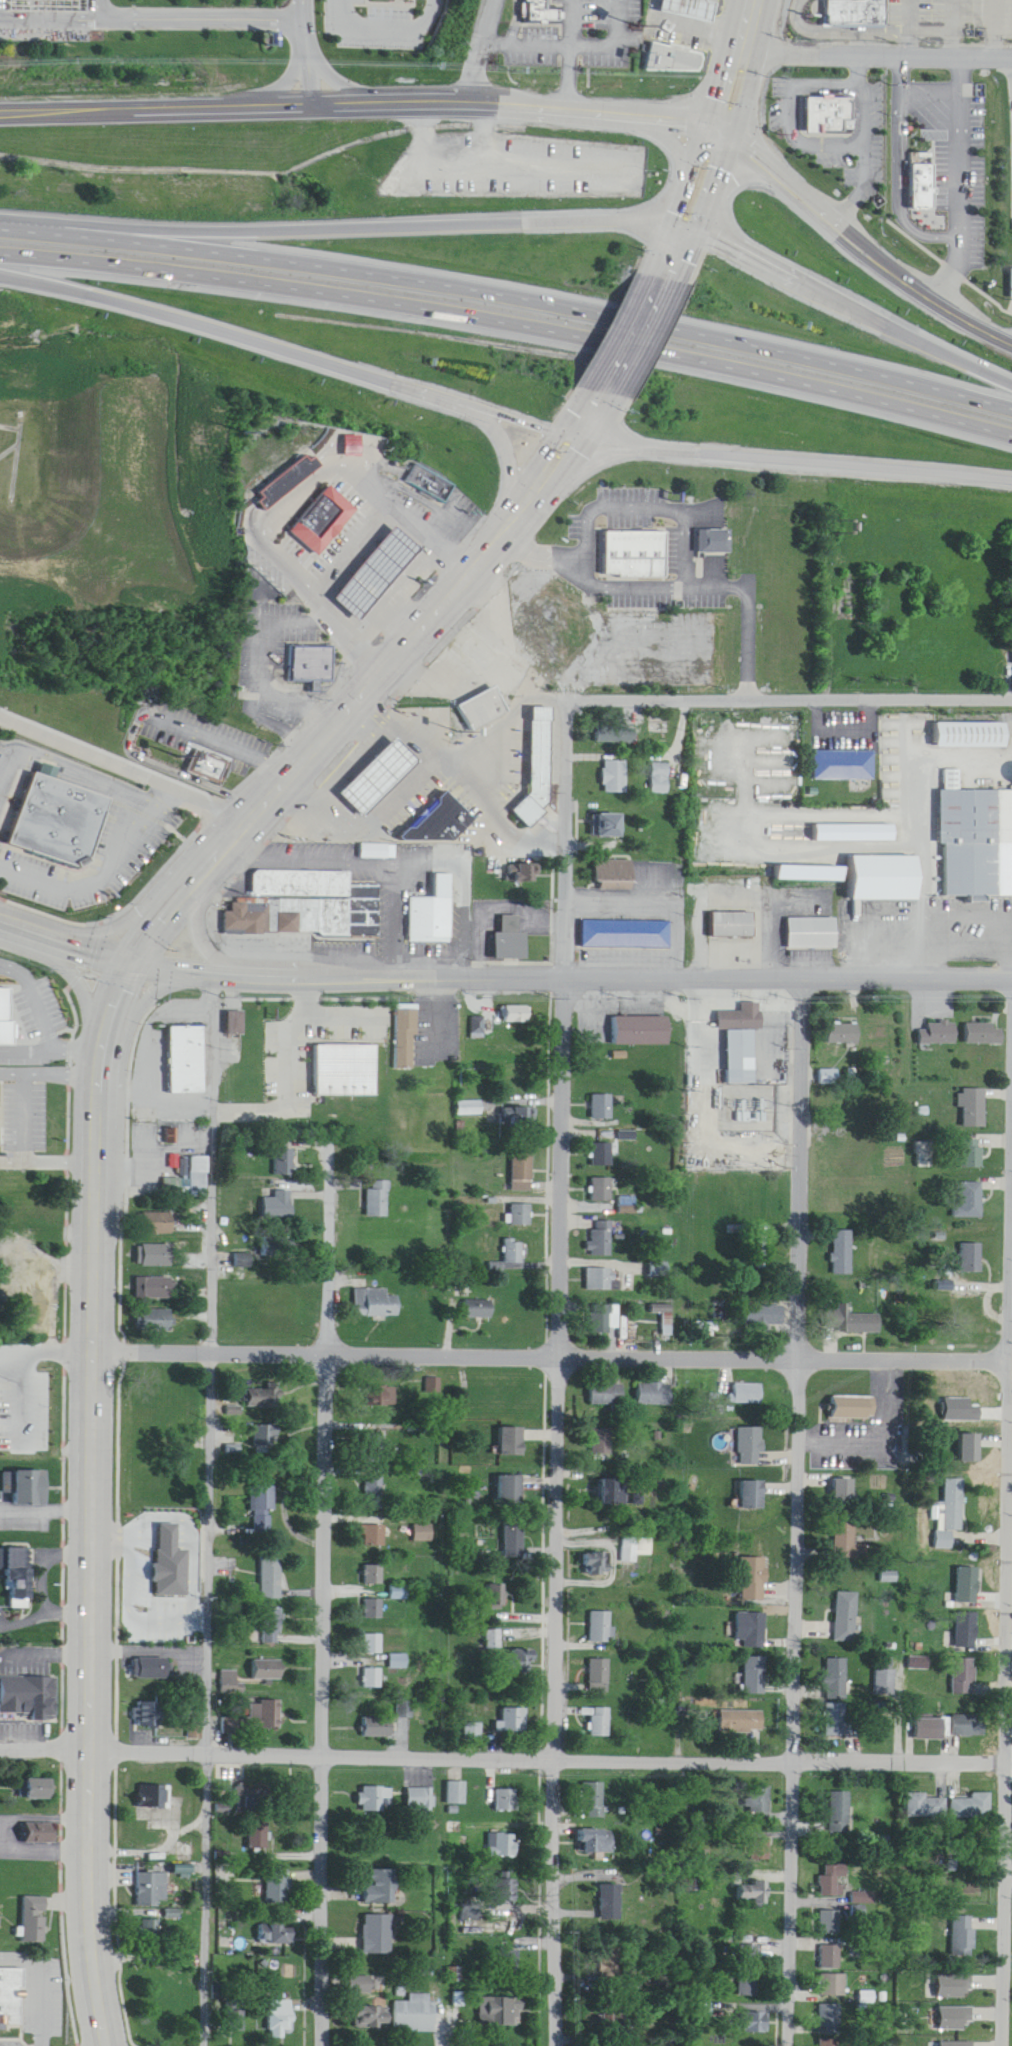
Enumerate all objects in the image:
road: (91, 2)
gas station: (684, 2)
building: (536, 3)
road: (148, 4)
building: (850, 6)
building: (689, 8)
parking lot: (196, 12)
road: (392, 23)
road: (904, 27)
road: (953, 28)
road: (990, 28)
road: (606, 38)
road: (545, 42)
road: (309, 45)
building: (664, 45)
road: (479, 46)
road: (881, 54)
building: (678, 60)
road: (566, 71)
road: (928, 88)
road: (545, 97)
building: (822, 101)
road: (731, 110)
road: (790, 111)
building: (796, 116)
road: (863, 140)
road: (897, 166)
parking lot: (516, 170)
building: (917, 173)
road: (958, 180)
road: (346, 216)
road: (680, 244)
building: (1010, 269)
road: (508, 296)
road: (850, 296)
road: (509, 324)
road: (637, 330)
road: (288, 351)
road: (792, 463)
building: (277, 468)
building: (425, 470)
road: (284, 489)
building: (312, 505)
building: (707, 526)
building: (630, 541)
building: (714, 542)
gas station: (366, 559)
road: (667, 577)
gas station: (468, 641)
building: (479, 657)
building: (310, 665)
road: (374, 681)
road: (787, 688)
building: (476, 696)
building: (484, 710)
road: (224, 731)
building: (616, 736)
building: (973, 737)
road: (263, 750)
building: (203, 752)
road: (172, 757)
road: (471, 760)
gas station: (370, 761)
road: (122, 762)
building: (845, 767)
building: (538, 772)
building: (616, 778)
building: (50, 807)
building: (430, 809)
road: (364, 821)
building: (610, 827)
building: (856, 834)
building: (976, 841)
road: (926, 859)
road: (386, 860)
building: (616, 873)
building: (813, 875)
building: (888, 880)
road: (489, 906)
building: (306, 907)
road: (650, 909)
building: (731, 911)
building: (433, 915)
road: (394, 916)
building: (735, 926)
building: (815, 935)
road: (62, 936)
building: (628, 936)
road: (203, 941)
building: (512, 941)
road: (88, 946)
road: (122, 971)
road: (568, 973)
road: (76, 976)
building: (737, 1003)
building: (23, 1014)
building: (518, 1015)
building: (2, 1018)
building: (235, 1024)
building: (643, 1032)
building: (938, 1034)
building: (844, 1035)
building: (985, 1035)
building: (407, 1040)
building: (735, 1042)
building: (289, 1052)
building: (341, 1057)
building: (187, 1061)
road: (281, 1070)
road: (49, 1074)
building: (603, 1107)
building: (975, 1109)
building: (519, 1118)
road: (155, 1134)
building: (170, 1138)
building: (972, 1155)
building: (603, 1156)
building: (285, 1165)
road: (49, 1170)
building: (523, 1173)
building: (190, 1182)
building: (603, 1191)
building: (379, 1200)
building: (970, 1203)
building: (279, 1206)
building: (520, 1216)
building: (158, 1225)
building: (602, 1240)
building: (278, 1248)
building: (515, 1253)
building: (762, 1253)
building: (843, 1254)
building: (155, 1257)
building: (972, 1259)
building: (601, 1281)
building: (29, 1286)
building: (154, 1290)
road: (50, 1291)
building: (377, 1305)
building: (480, 1310)
building: (766, 1316)
building: (606, 1321)
building: (155, 1322)
building: (667, 1322)
building: (851, 1323)
building: (701, 1330)
road: (551, 1347)
road: (45, 1349)
road: (556, 1369)
building: (34, 1385)
building: (654, 1395)
building: (747, 1395)
building: (388, 1396)
building: (606, 1396)
building: (848, 1397)
road: (23, 1398)
building: (263, 1398)
parking lot: (881, 1417)
road: (893, 1432)
building: (266, 1435)
building: (34, 1438)
building: (513, 1441)
building: (751, 1447)
building: (30, 1488)
building: (512, 1489)
building: (612, 1492)
building: (376, 1493)
building: (753, 1495)
road: (89, 1500)
building: (955, 1505)
road: (210, 1506)
road: (544, 1509)
building: (264, 1510)
road: (798, 1510)
road: (62, 1511)
building: (426, 1533)
building: (375, 1535)
building: (514, 1537)
building: (847, 1541)
building: (635, 1549)
building: (171, 1563)
building: (597, 1564)
road: (42, 1565)
building: (16, 1570)
building: (375, 1574)
building: (272, 1577)
building: (754, 1580)
building: (969, 1585)
road: (326, 1590)
road: (115, 1592)
building: (375, 1609)
building: (847, 1616)
road: (43, 1617)
building: (272, 1625)
building: (601, 1627)
building: (751, 1630)
building: (968, 1631)
building: (493, 1639)
building: (374, 1644)
road: (44, 1651)
building: (522, 1657)
building: (400, 1662)
building: (150, 1669)
building: (268, 1670)
building: (599, 1676)
building: (756, 1677)
building: (965, 1677)
building: (373, 1678)
building: (837, 1679)
building: (886, 1682)
building: (229, 1683)
building: (27, 1699)
building: (405, 1710)
building: (265, 1712)
building: (514, 1720)
building: (837, 1721)
building: (600, 1722)
building: (742, 1722)
building: (969, 1726)
building: (378, 1727)
building: (931, 1729)
building: (473, 1731)
road: (505, 1749)
road: (1008, 1780)
building: (34, 1790)
building: (457, 1793)
building: (152, 1797)
building: (420, 1798)
building: (372, 1800)
building: (507, 1800)
building: (595, 1800)
building: (759, 1805)
building: (924, 1807)
building: (972, 1807)
building: (840, 1814)
building: (257, 1837)
building: (40, 1839)
building: (596, 1841)
building: (504, 1846)
building: (760, 1851)
building: (185, 1853)
building: (831, 1882)
building: (276, 1888)
building: (378, 1888)
building: (146, 1890)
building: (497, 1892)
building: (751, 1895)
building: (861, 1899)
building: (611, 1903)
building: (33, 1920)
building: (828, 1923)
building: (376, 1935)
building: (961, 1937)
building: (828, 1958)
building: (507, 1960)
building: (609, 1970)
building: (747, 1972)
building: (156, 1975)
building: (364, 1985)
building: (830, 1986)
building: (11, 1998)
building: (456, 2006)
building: (497, 2012)
building: (413, 2014)
building: (278, 2018)
building: (369, 2018)
building: (827, 2020)
building: (611, 2021)
building: (752, 2023)
building: (828, 2043)

